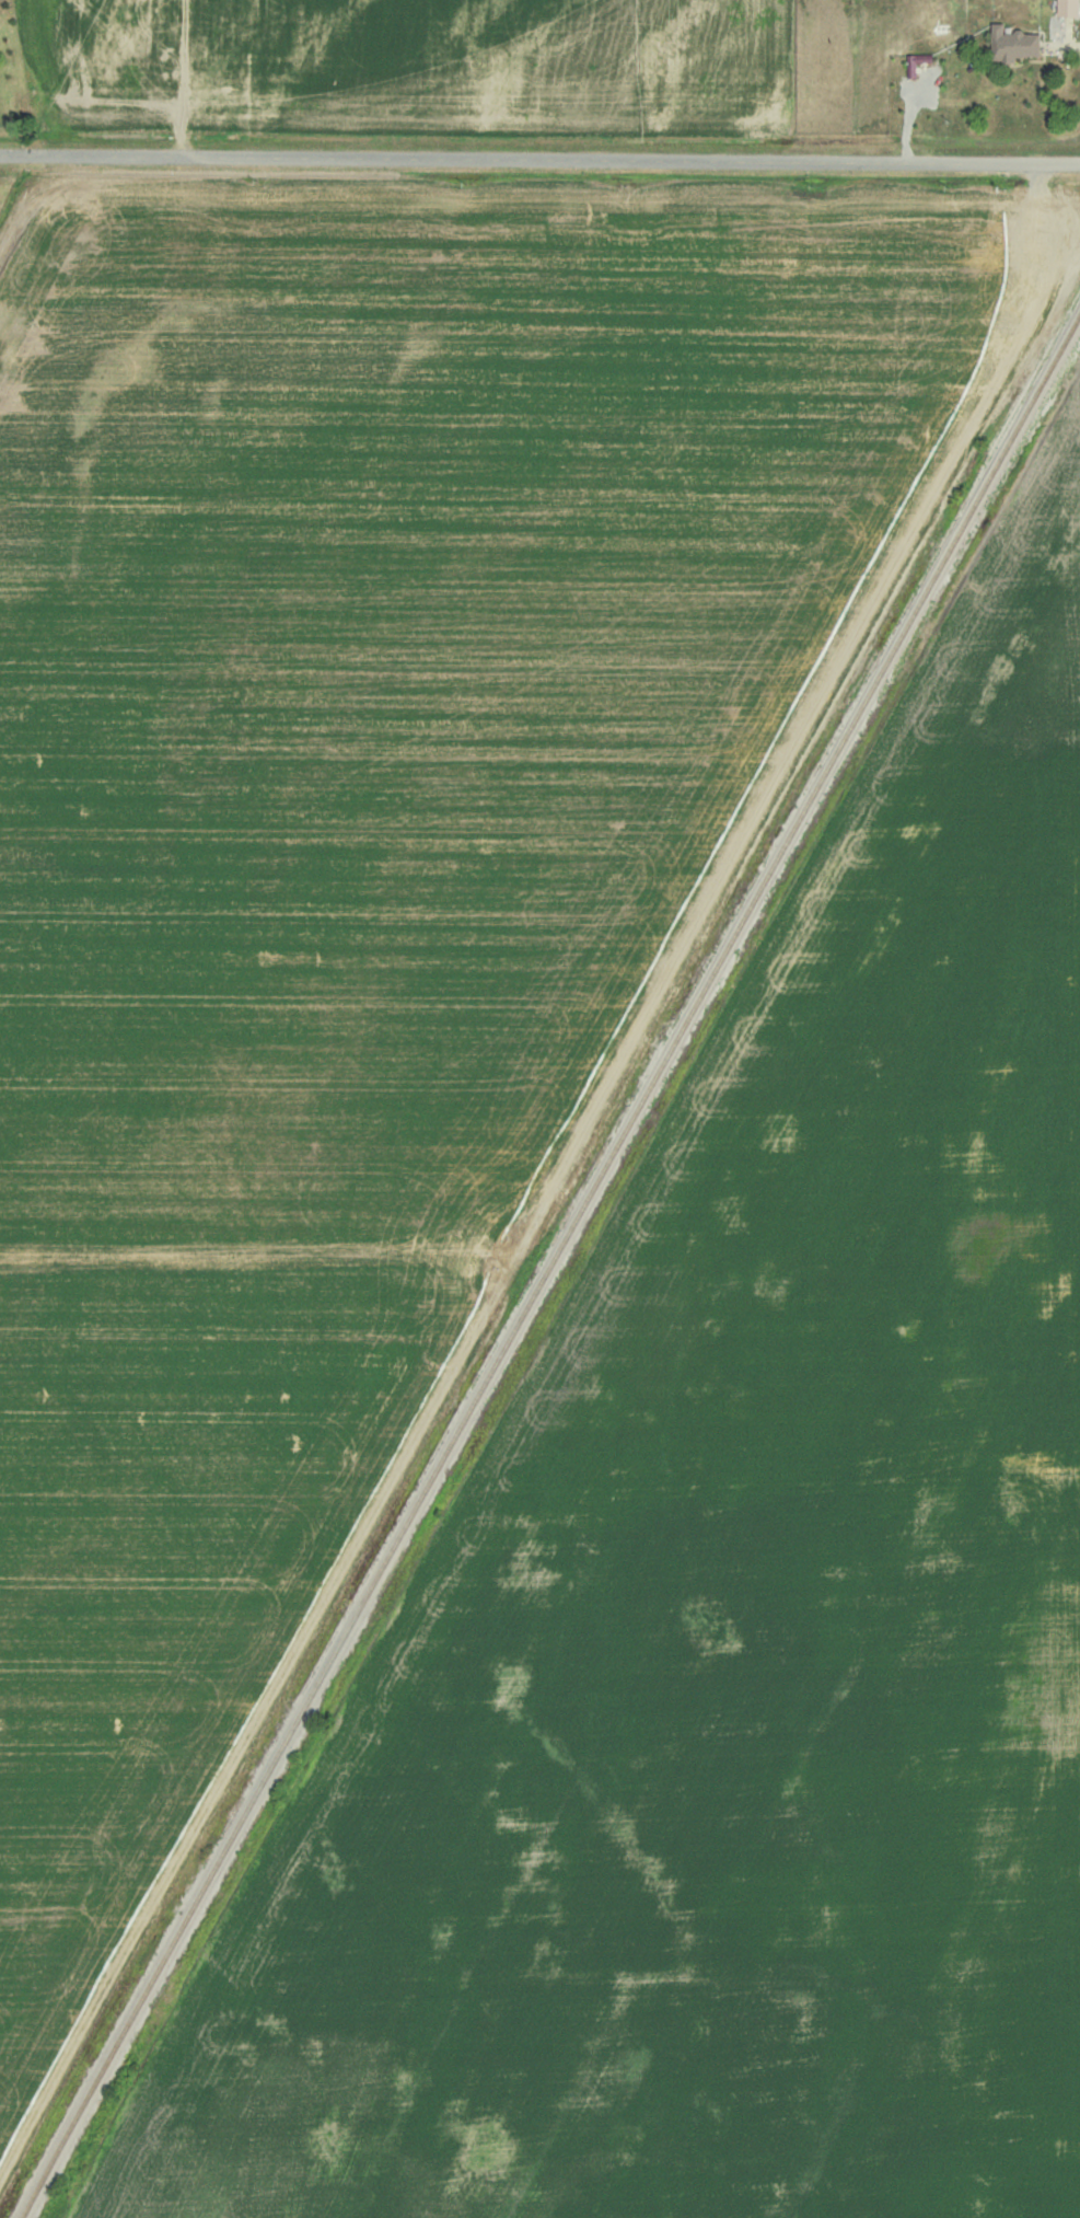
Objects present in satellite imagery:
building: (1064, 8)
building: (1012, 45)
road: (539, 162)
railway: (551, 1264)

